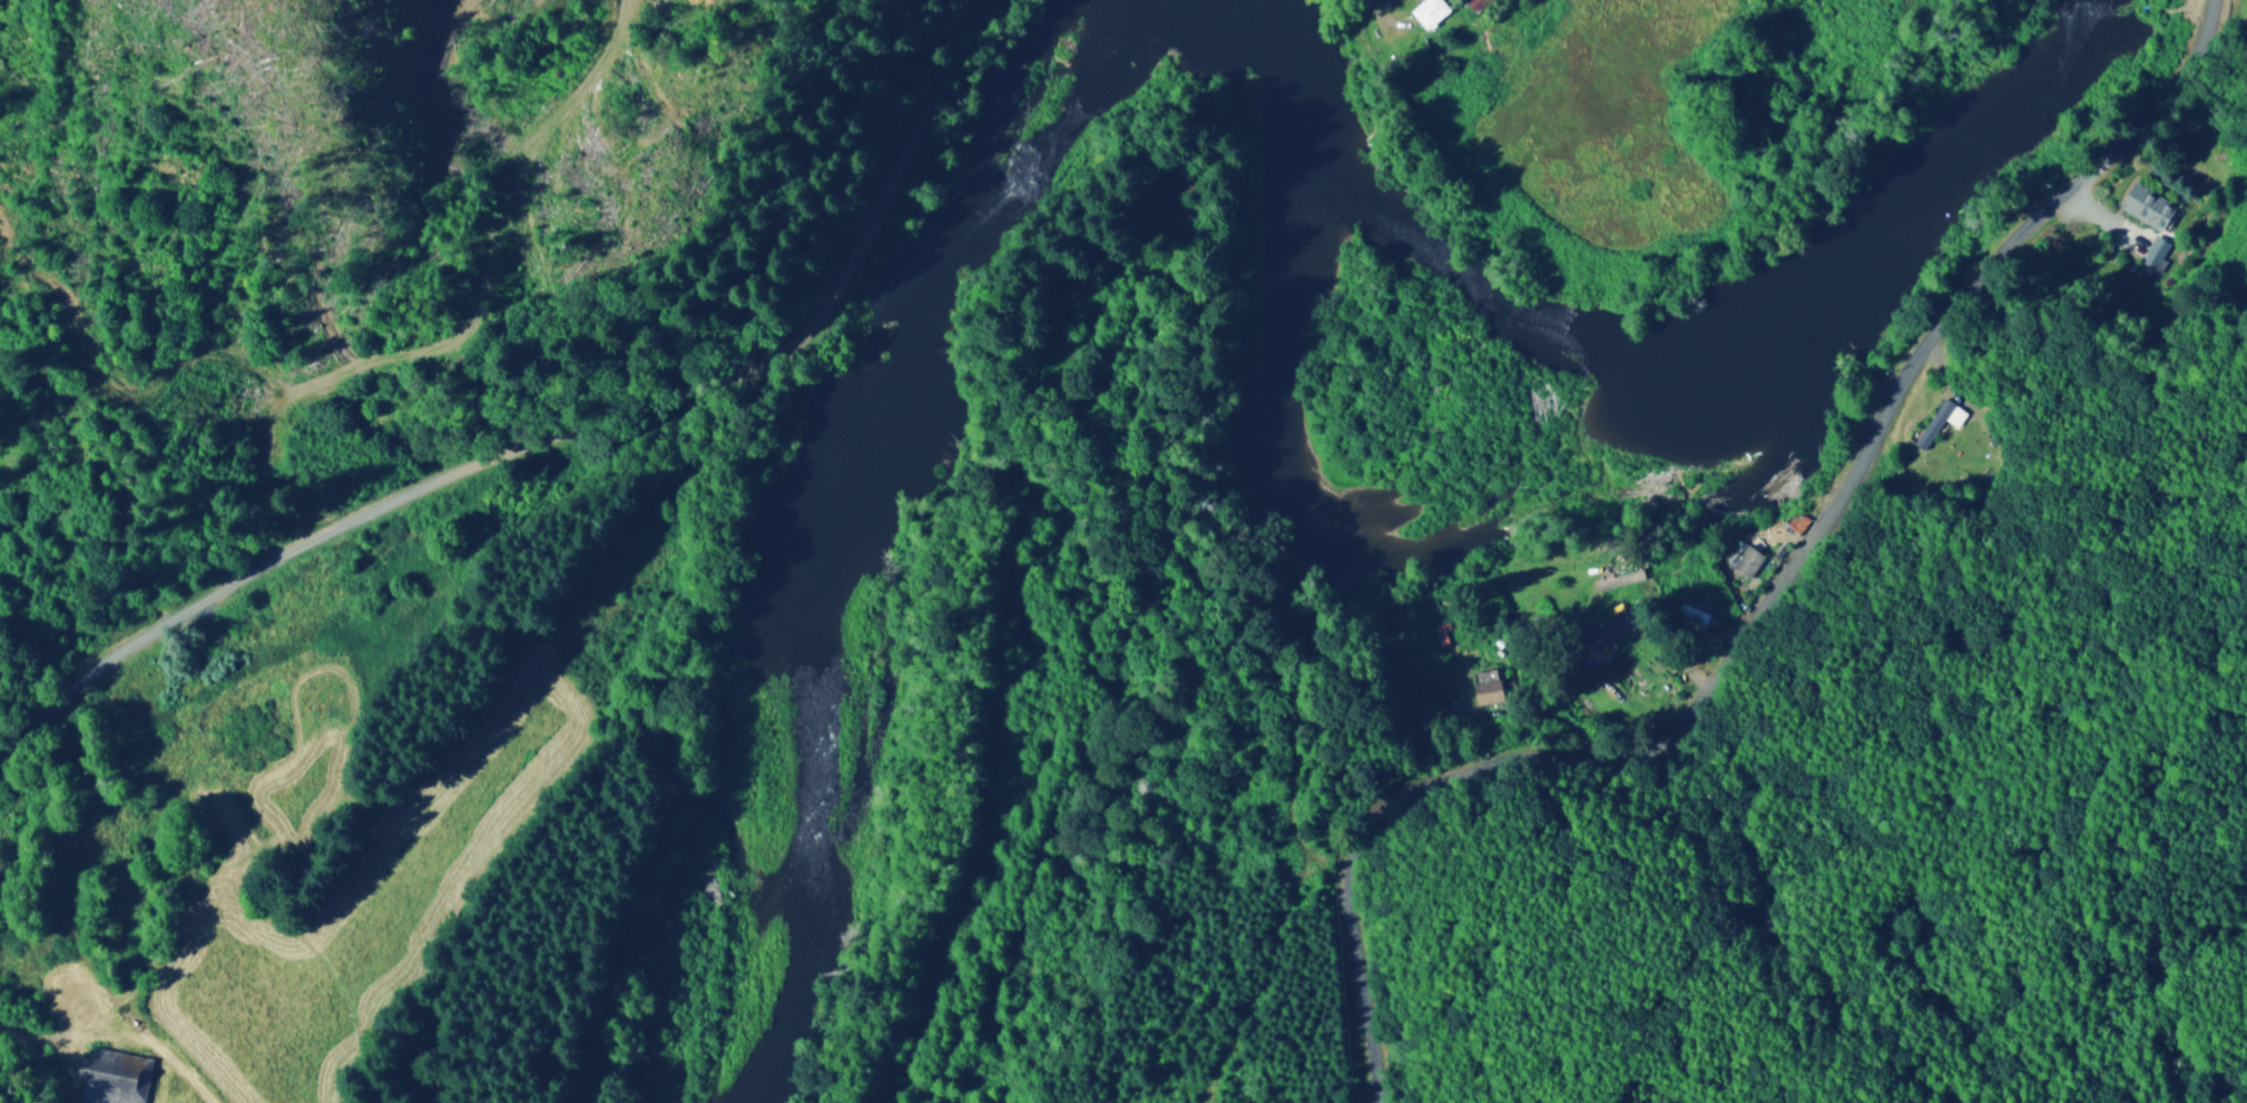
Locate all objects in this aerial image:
building: (1429, 11)
building: (2146, 204)
building: (2155, 250)
river: (1646, 345)
road: (373, 360)
building: (1940, 420)
road: (559, 433)
river: (848, 503)
building: (1748, 560)
road: (1199, 584)
building: (1620, 584)
road: (1772, 608)
building: (1486, 683)
road: (81, 919)
road: (91, 1033)
road: (38, 1055)
building: (109, 1075)

